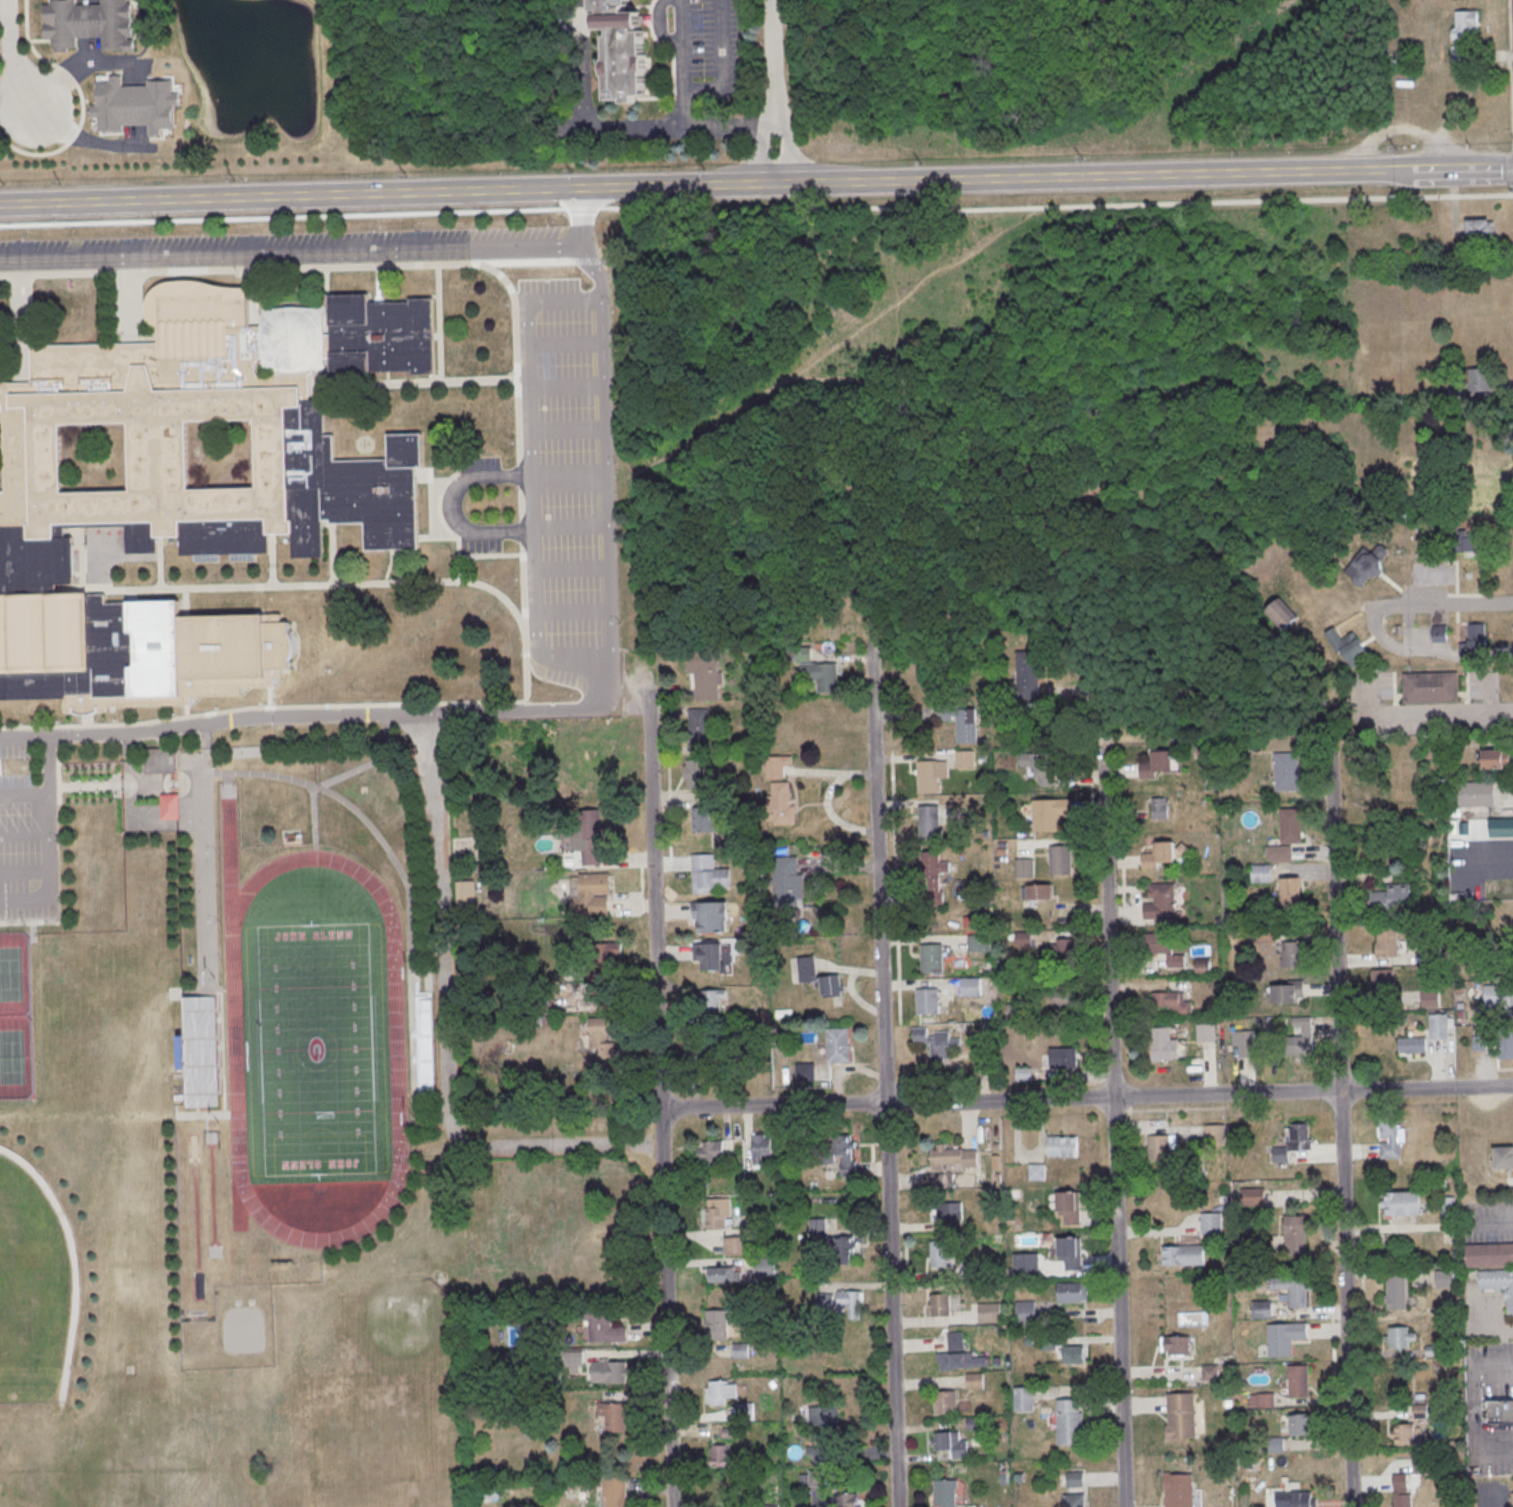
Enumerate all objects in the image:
road: (4, 6)
road: (25, 19)
building: (88, 24)
building: (1465, 34)
parking lot: (708, 49)
building: (623, 50)
road: (1511, 51)
road: (12, 56)
road: (684, 64)
road: (13, 92)
road: (773, 92)
building: (135, 105)
road: (81, 120)
road: (616, 130)
road: (81, 140)
road: (756, 184)
road: (583, 202)
road: (291, 208)
road: (1048, 208)
building: (1481, 231)
road: (319, 251)
road: (525, 300)
road: (439, 322)
road: (551, 342)
building: (1480, 379)
road: (418, 382)
road: (552, 387)
road: (553, 427)
road: (555, 476)
road: (491, 477)
building: (1489, 494)
road: (520, 496)
road: (453, 504)
building: (208, 506)
road: (526, 532)
building: (1467, 544)
road: (272, 559)
road: (160, 562)
building: (1367, 564)
road: (562, 567)
road: (303, 584)
road: (1461, 606)
road: (564, 611)
building: (1281, 614)
road: (535, 625)
building: (1476, 637)
road: (1381, 640)
road: (1506, 651)
road: (1454, 654)
building: (1027, 669)
building: (817, 671)
building: (705, 673)
building: (1432, 688)
road: (528, 711)
road: (1424, 713)
building: (961, 722)
building: (700, 728)
building: (965, 758)
building: (1495, 759)
building: (162, 761)
building: (1041, 766)
building: (1158, 766)
building: (777, 767)
building: (1288, 773)
building: (696, 774)
building: (928, 777)
building: (1476, 793)
road: (24, 794)
building: (782, 806)
building: (1159, 807)
building: (171, 808)
building: (1044, 816)
building: (707, 819)
building: (932, 822)
building: (1292, 826)
building: (1501, 829)
road: (24, 832)
building: (585, 837)
road: (49, 841)
building: (1280, 854)
road: (1493, 855)
building: (1160, 857)
building: (1061, 862)
building: (931, 867)
building: (1024, 867)
road: (24, 872)
building: (1262, 875)
building: (709, 876)
building: (788, 883)
building: (1037, 891)
building: (1292, 893)
building: (465, 894)
building: (1393, 895)
building: (593, 897)
road: (657, 900)
building: (1162, 903)
building: (715, 919)
road: (446, 926)
building: (1266, 936)
building: (978, 942)
building: (1388, 943)
building: (1065, 948)
building: (1164, 950)
building: (606, 954)
building: (1432, 954)
building: (713, 957)
building: (1294, 957)
building: (933, 960)
building: (819, 978)
building: (603, 983)
building: (1383, 984)
building: (971, 985)
building: (1289, 994)
building: (1498, 996)
building: (1065, 998)
building: (1430, 999)
building: (713, 1000)
building: (928, 1001)
building: (1172, 1003)
building: (1439, 1028)
building: (1206, 1034)
building: (1302, 1036)
building: (602, 1041)
building: (1479, 1042)
building: (1246, 1045)
building: (1164, 1046)
building: (1412, 1046)
building: (939, 1047)
building: (1505, 1047)
building: (839, 1049)
building: (707, 1055)
building: (1059, 1057)
building: (805, 1072)
building: (1024, 1073)
road: (886, 1075)
road: (1088, 1098)
road: (1340, 1123)
road: (1113, 1127)
road: (664, 1128)
building: (1215, 1136)
building: (1391, 1136)
building: (1300, 1138)
road: (562, 1147)
building: (1063, 1148)
building: (760, 1149)
building: (1162, 1149)
building: (709, 1152)
building: (843, 1154)
building: (955, 1158)
building: (1504, 1160)
building: (1037, 1173)
building: (933, 1179)
building: (1254, 1199)
building: (1404, 1205)
building: (1448, 1206)
building: (1071, 1209)
building: (947, 1212)
building: (718, 1219)
road: (1492, 1224)
building: (1212, 1225)
building: (818, 1229)
building: (1297, 1231)
building: (735, 1244)
building: (842, 1249)
building: (1071, 1254)
building: (1489, 1254)
building: (943, 1255)
building: (1184, 1257)
building: (1027, 1266)
building: (765, 1268)
building: (725, 1276)
building: (1443, 1278)
building: (1498, 1283)
building: (1295, 1291)
building: (1074, 1294)
building: (1398, 1294)
building: (841, 1304)
building: (942, 1307)
building: (1263, 1311)
building: (990, 1314)
building: (1027, 1314)
building: (604, 1325)
building: (717, 1327)
road: (668, 1328)
building: (1400, 1338)
building: (1286, 1339)
building: (1175, 1345)
building: (1074, 1354)
building: (961, 1357)
building: (573, 1361)
road: (1503, 1367)
building: (610, 1373)
building: (1212, 1375)
building: (975, 1380)
building: (1301, 1381)
building: (719, 1391)
building: (1025, 1400)
building: (1262, 1400)
building: (947, 1404)
road: (1474, 1406)
building: (1500, 1409)
building: (614, 1416)
building: (1183, 1418)
building: (1071, 1424)
building: (1300, 1424)
building: (1407, 1427)
road: (1473, 1436)
building: (950, 1444)
road: (1493, 1453)
building: (718, 1455)
building: (819, 1455)
building: (811, 1478)
building: (1076, 1481)
building: (1401, 1490)
building: (614, 1491)
building: (1180, 1491)
building: (946, 1493)
building: (1511, 1499)
building: (843, 1500)
building: (1076, 1501)
building: (1304, 1501)

